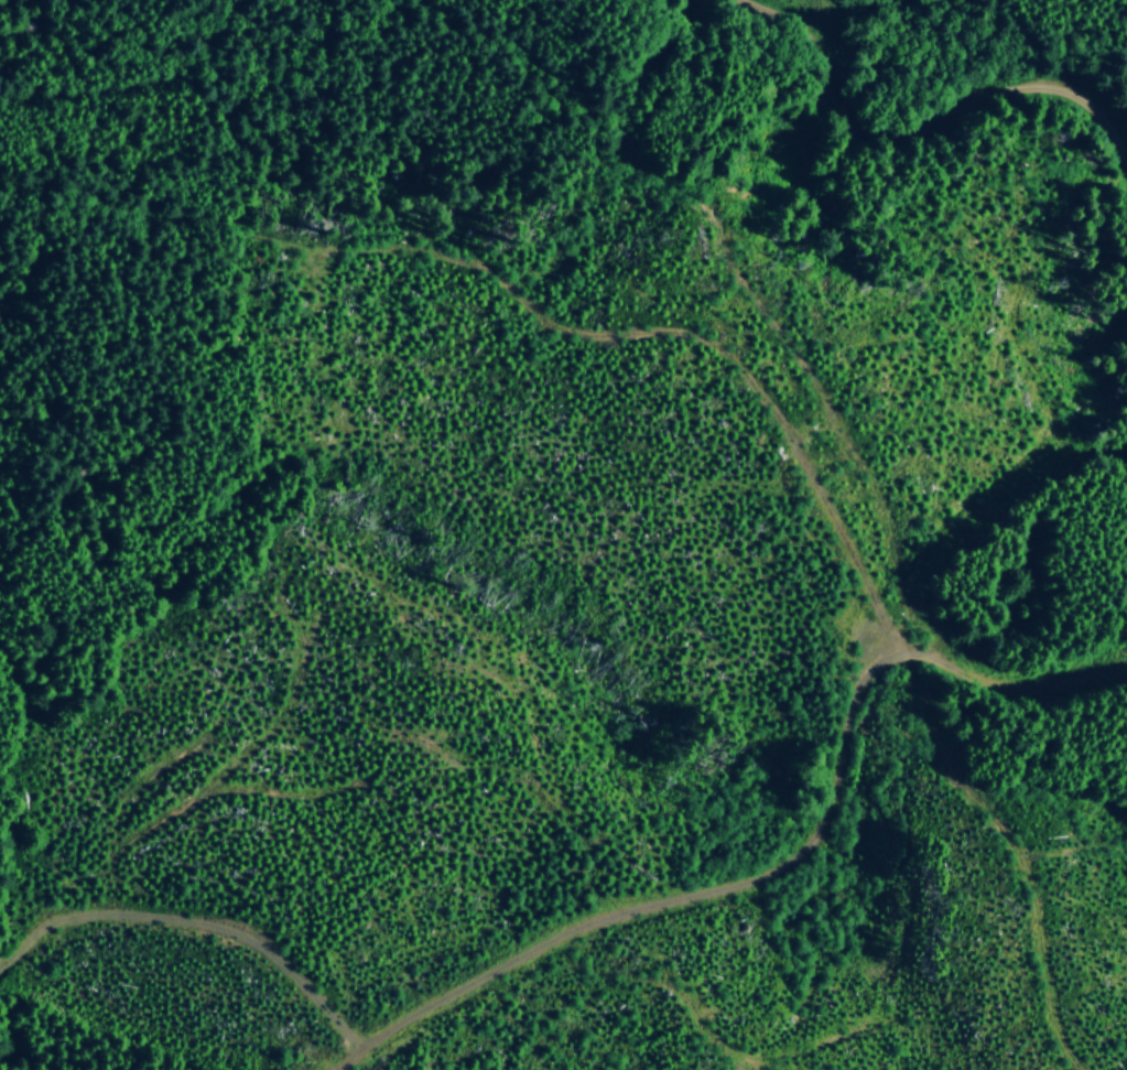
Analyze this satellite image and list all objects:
road: (175, 71)
road: (40, 90)
road: (920, 132)
road: (543, 315)
road: (784, 865)
road: (202, 926)

